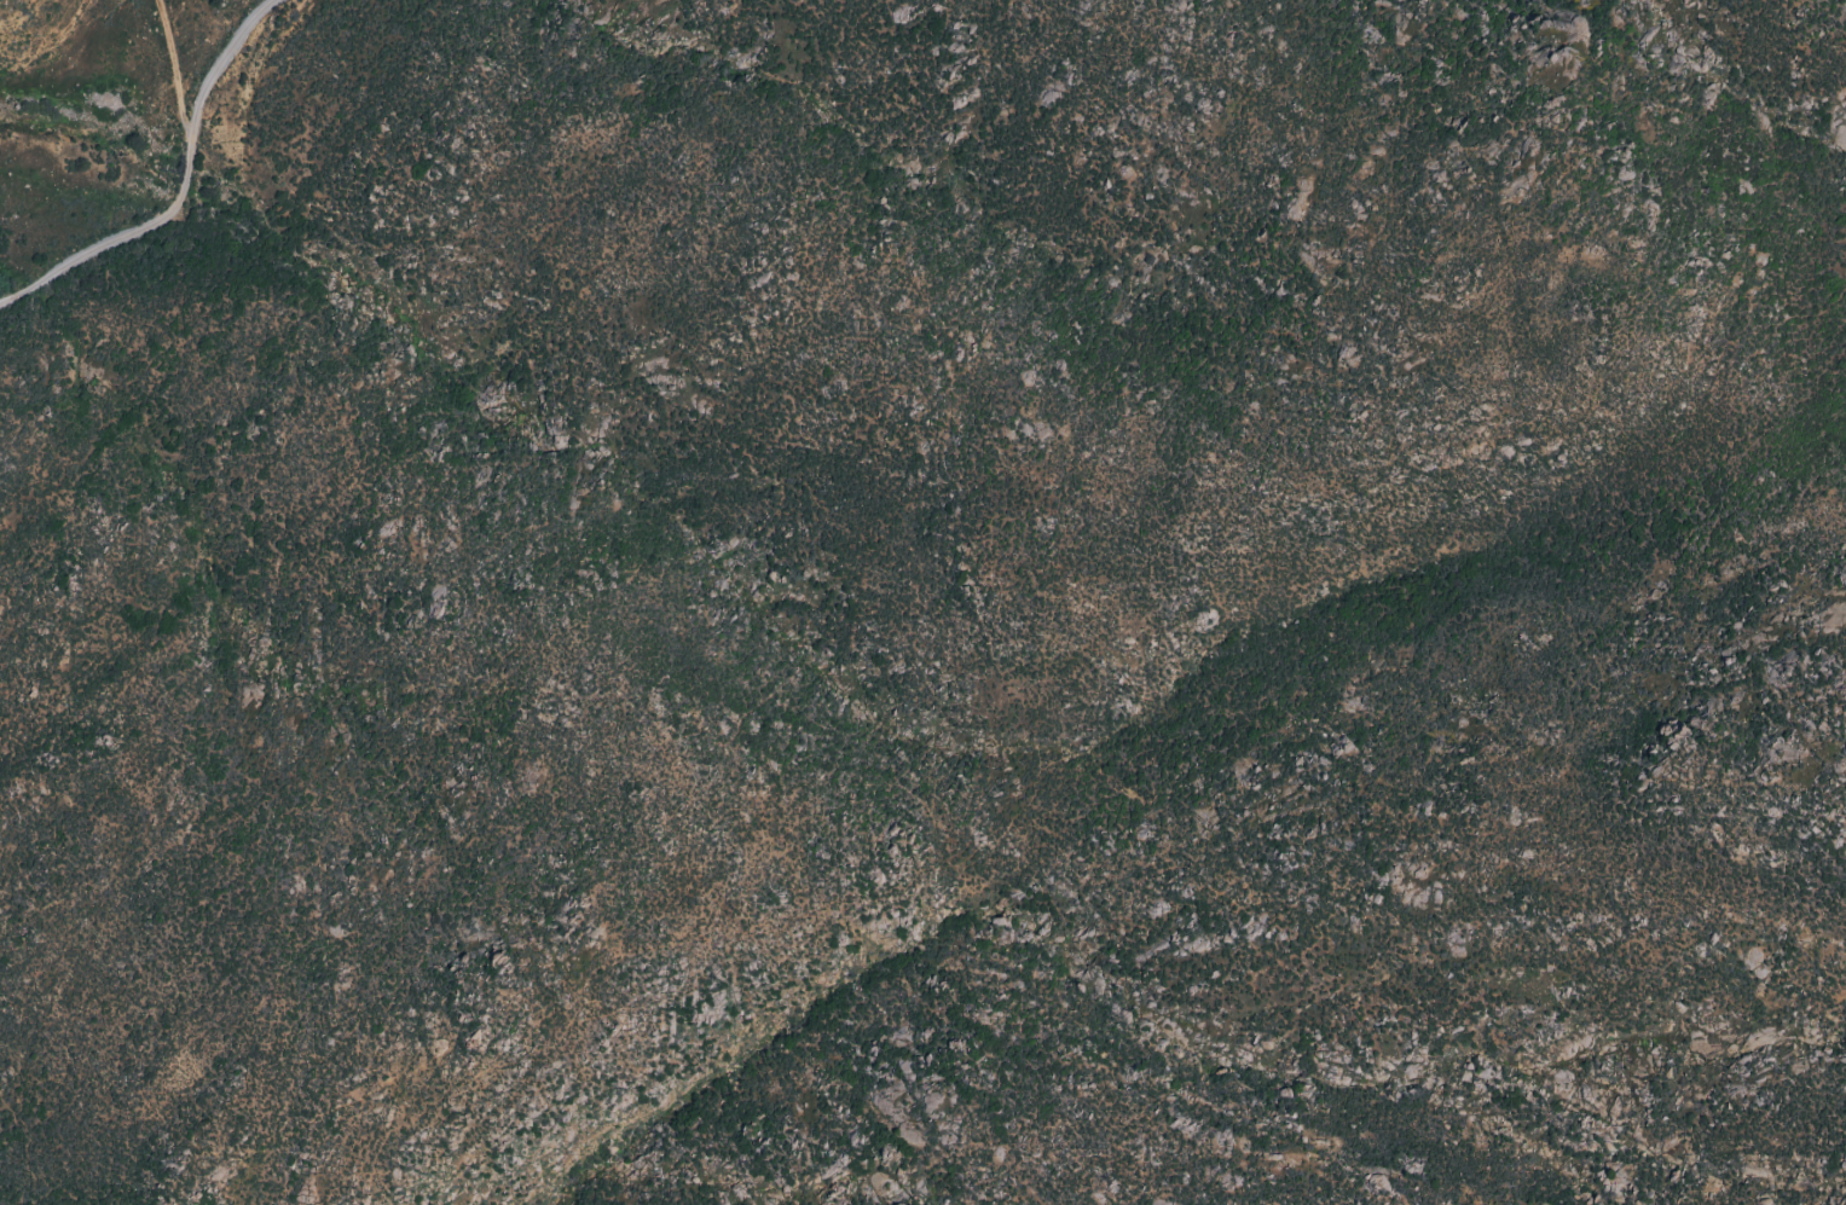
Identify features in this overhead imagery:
road: (180, 60)
road: (185, 190)

